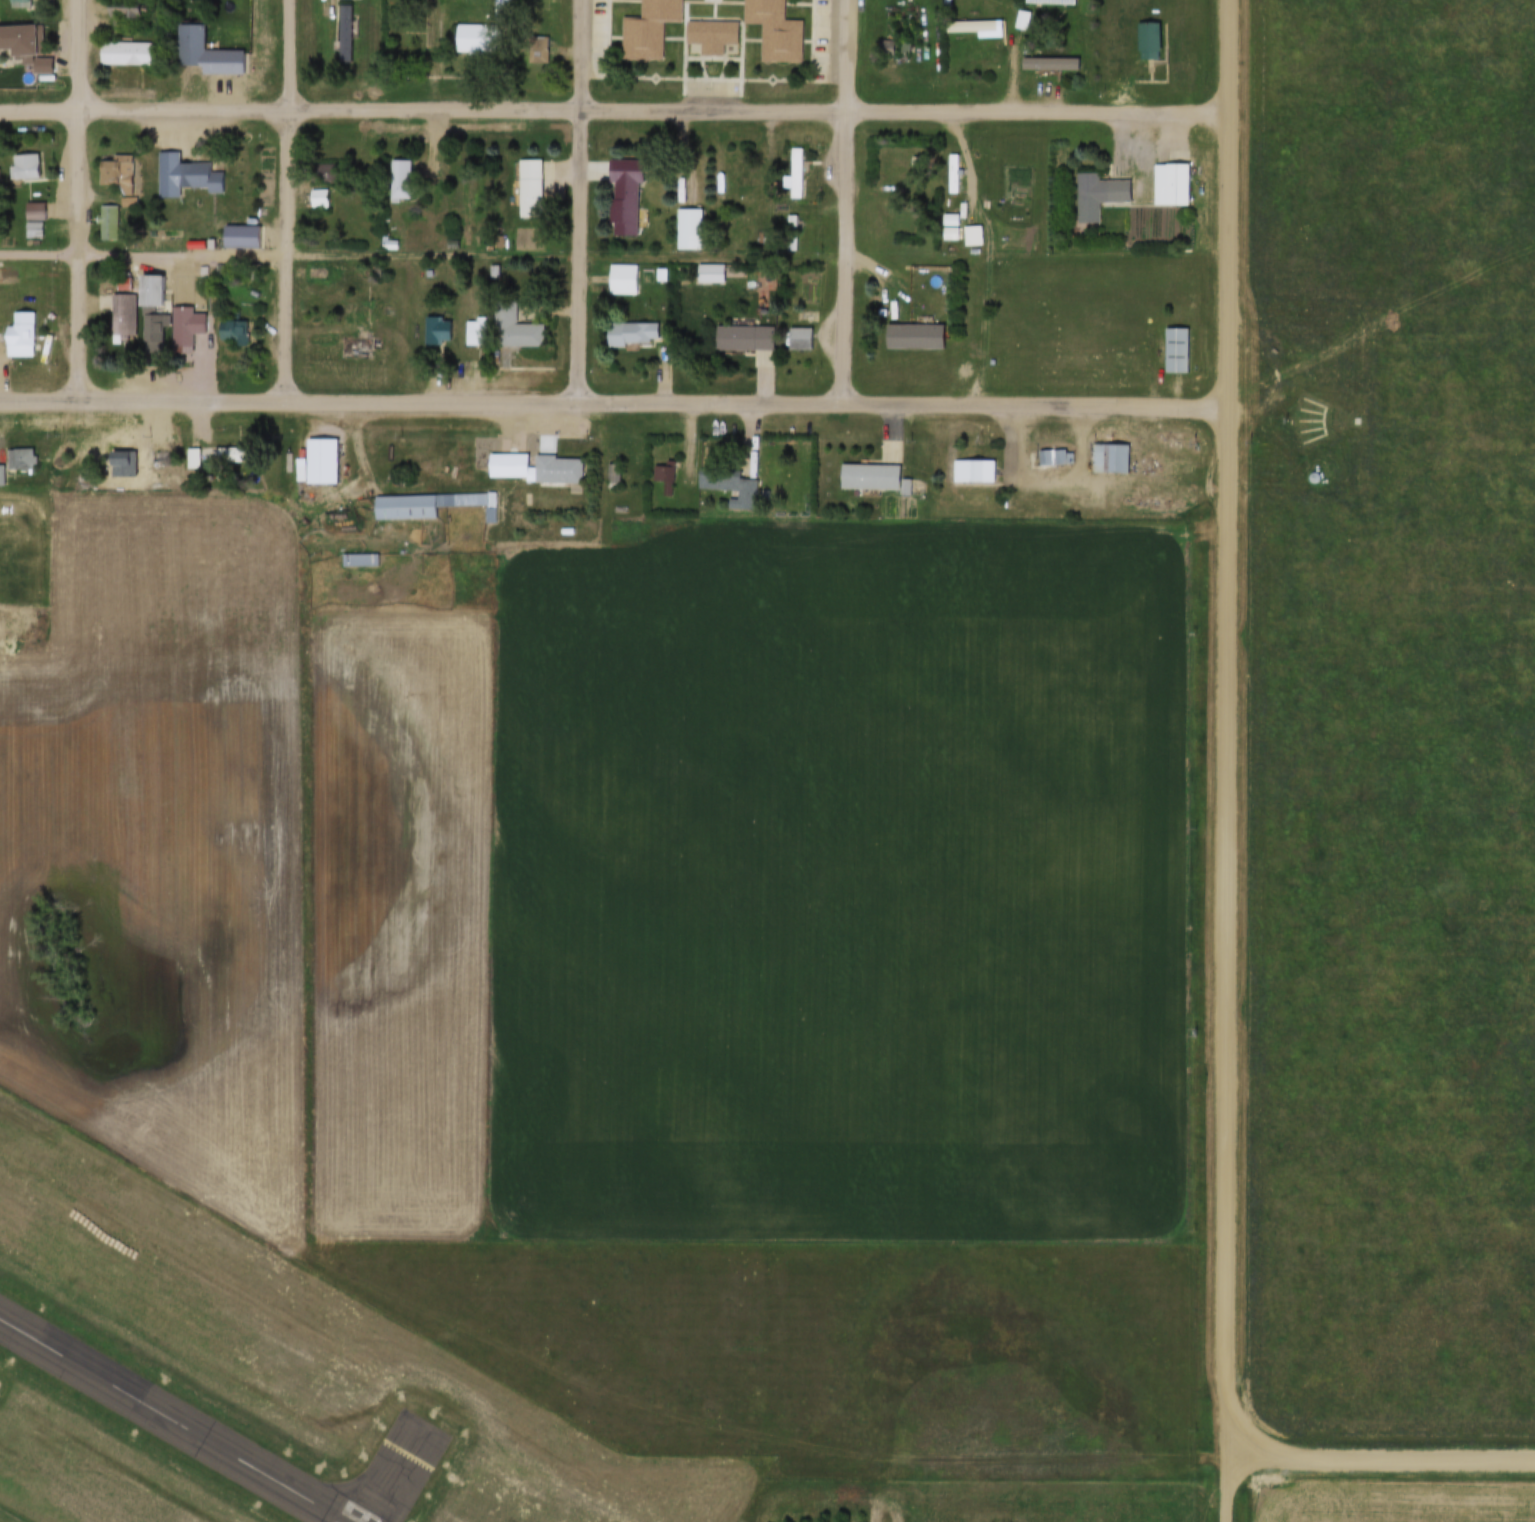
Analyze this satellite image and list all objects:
building: (345, 0)
building: (17, 5)
building: (547, 12)
building: (496, 13)
building: (126, 15)
building: (1020, 23)
building: (646, 30)
building: (969, 30)
building: (772, 36)
building: (710, 39)
building: (474, 42)
building: (20, 43)
building: (184, 49)
building: (889, 51)
building: (123, 57)
building: (41, 70)
road: (1017, 73)
road: (655, 106)
road: (40, 110)
building: (21, 171)
building: (114, 174)
building: (949, 177)
building: (182, 180)
building: (397, 182)
building: (1174, 189)
building: (527, 192)
road: (81, 199)
road: (288, 199)
road: (581, 199)
building: (622, 199)
road: (848, 200)
building: (1096, 200)
building: (102, 227)
building: (786, 228)
building: (685, 233)
building: (28, 234)
road: (423, 253)
building: (707, 277)
building: (616, 283)
building: (148, 311)
building: (119, 318)
building: (185, 330)
building: (18, 334)
building: (435, 334)
building: (472, 336)
building: (520, 338)
building: (629, 338)
building: (742, 342)
building: (798, 342)
building: (351, 349)
building: (1168, 352)
road: (42, 399)
road: (655, 400)
building: (231, 458)
building: (1049, 461)
building: (188, 462)
building: (1103, 462)
building: (17, 463)
building: (117, 468)
building: (317, 469)
building: (531, 472)
building: (970, 475)
building: (606, 479)
building: (660, 481)
building: (868, 481)
building: (737, 497)
building: (403, 512)
road: (1227, 729)
airport: (257, 1384)
airport runway: (165, 1425)
road: (1383, 1459)
road: (1231, 1490)

